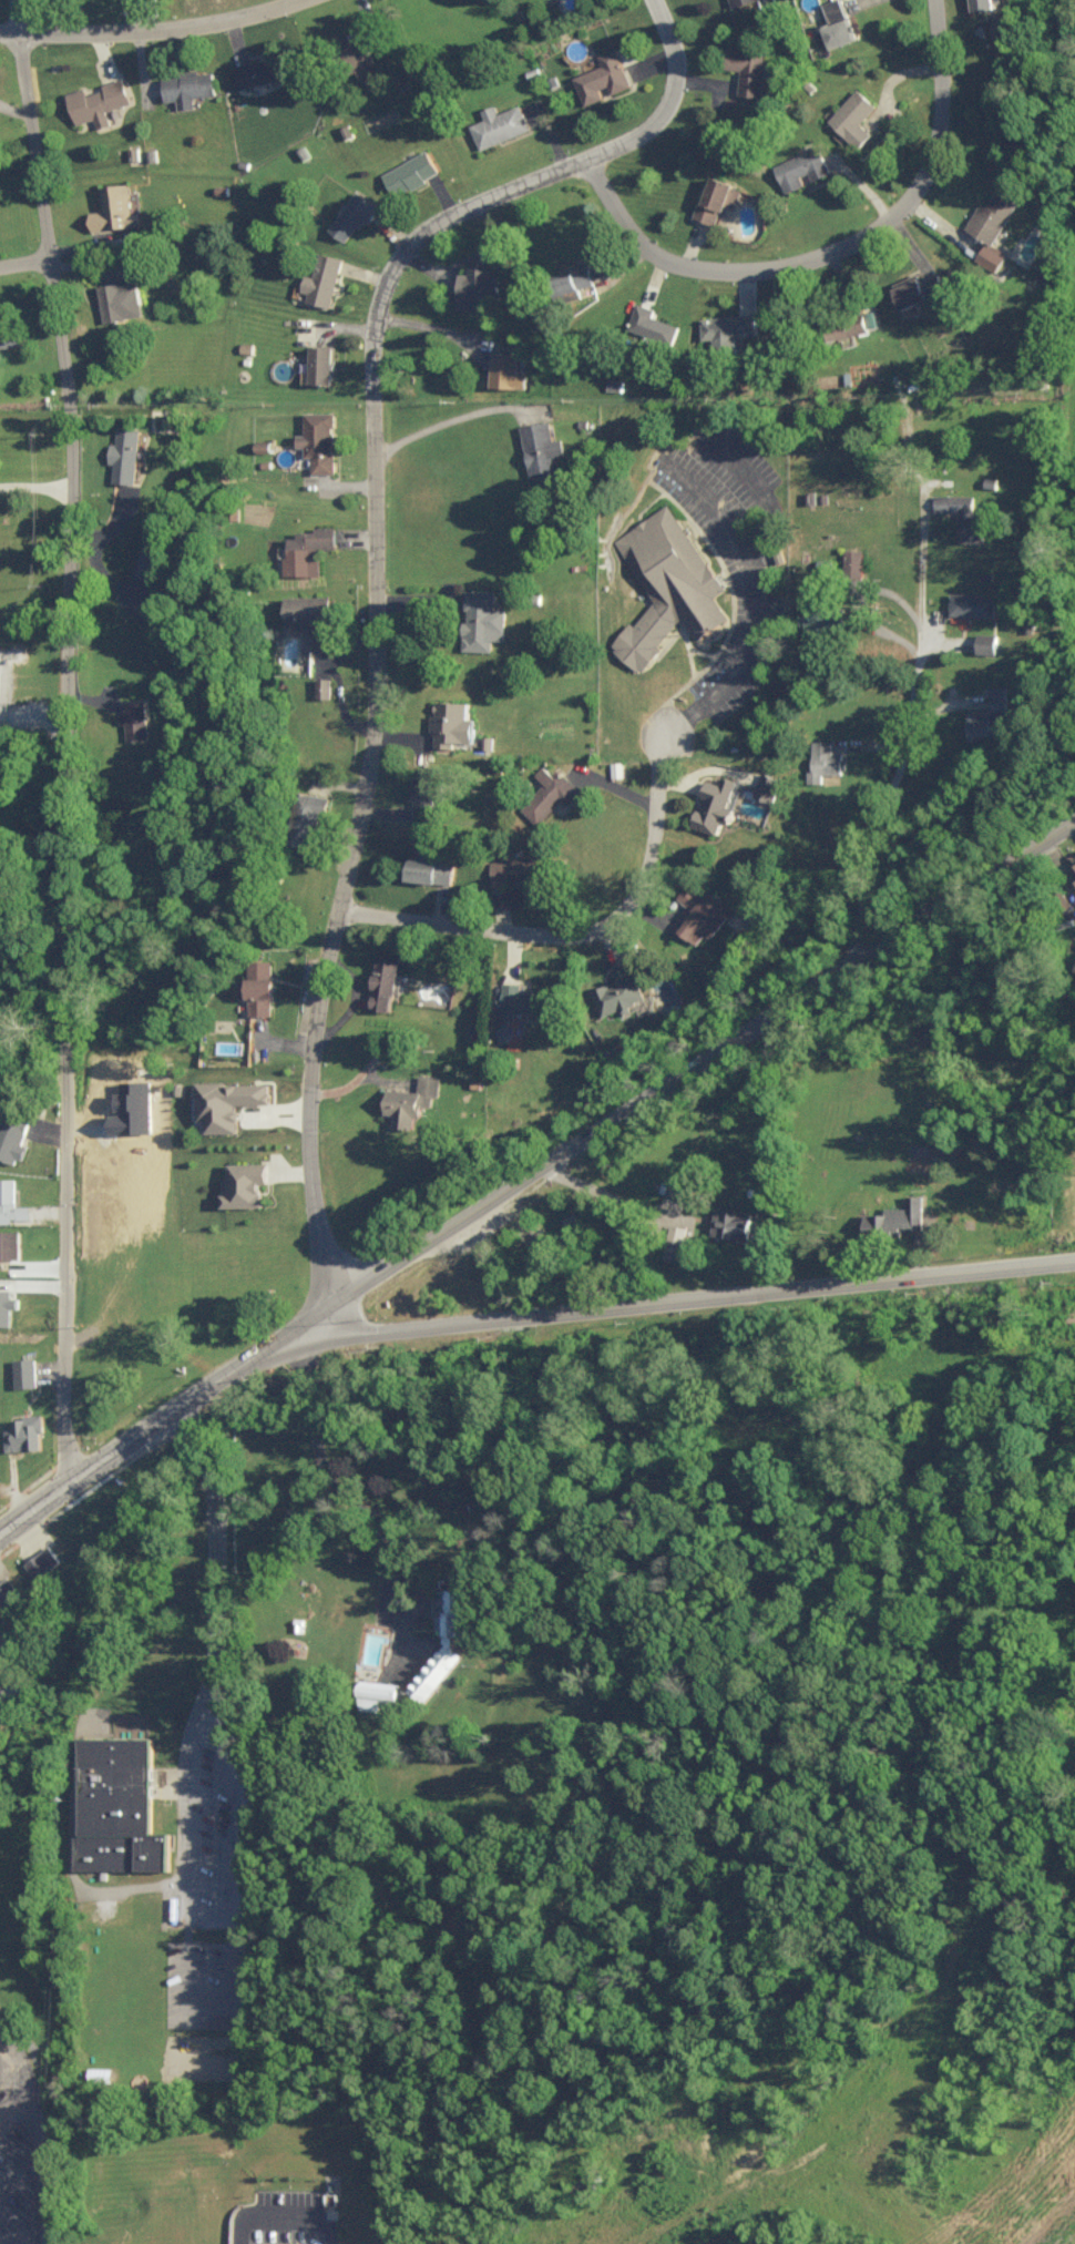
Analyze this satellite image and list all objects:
building: (734, 1)
building: (987, 3)
road: (126, 12)
building: (837, 23)
building: (362, 58)
building: (747, 68)
building: (260, 70)
building: (598, 75)
building: (186, 85)
building: (99, 100)
building: (857, 115)
building: (501, 123)
building: (801, 165)
building: (410, 173)
building: (718, 196)
building: (117, 212)
building: (354, 213)
building: (993, 214)
road: (25, 248)
road: (833, 253)
building: (992, 256)
building: (579, 276)
building: (322, 277)
building: (479, 284)
building: (915, 286)
building: (122, 300)
building: (854, 323)
building: (651, 326)
building: (730, 326)
building: (10, 335)
building: (321, 361)
building: (506, 368)
building: (615, 382)
road: (449, 416)
building: (318, 438)
building: (129, 455)
building: (546, 458)
road: (38, 486)
building: (965, 514)
building: (310, 549)
building: (854, 559)
building: (151, 562)
road: (369, 571)
building: (669, 590)
road: (760, 599)
building: (973, 603)
building: (310, 618)
building: (825, 618)
building: (483, 620)
building: (986, 642)
road: (337, 677)
building: (324, 685)
building: (986, 711)
building: (134, 716)
building: (453, 721)
road: (907, 731)
road: (65, 738)
building: (825, 759)
building: (553, 785)
building: (768, 785)
building: (427, 793)
building: (719, 800)
building: (308, 816)
building: (1074, 855)
building: (518, 865)
building: (430, 870)
building: (709, 915)
road: (575, 934)
building: (387, 979)
building: (258, 985)
building: (618, 989)
building: (525, 1000)
road: (696, 1061)
building: (229, 1098)
building: (411, 1100)
building: (12, 1136)
building: (250, 1182)
road: (611, 1197)
building: (11, 1201)
building: (899, 1215)
building: (733, 1222)
building: (9, 1242)
building: (675, 1242)
road: (695, 1296)
road: (247, 1356)
building: (24, 1370)
building: (24, 1431)
road: (119, 1444)
road: (318, 1451)
road: (31, 1506)
road: (217, 1555)
building: (43, 1561)
building: (8, 1592)
building: (442, 1640)
building: (4, 1641)
road: (16, 1675)
building: (2, 1679)
building: (376, 1692)
road: (188, 1796)
road: (234, 1804)
building: (121, 1806)
road: (70, 1853)
road: (202, 1905)
building: (106, 2070)
road: (53, 2136)
road: (27, 2170)
parking lot: (22, 2176)
parking lot: (299, 2204)
road: (297, 2207)
road: (35, 2224)
parking lot: (328, 2236)
building: (289, 2241)

